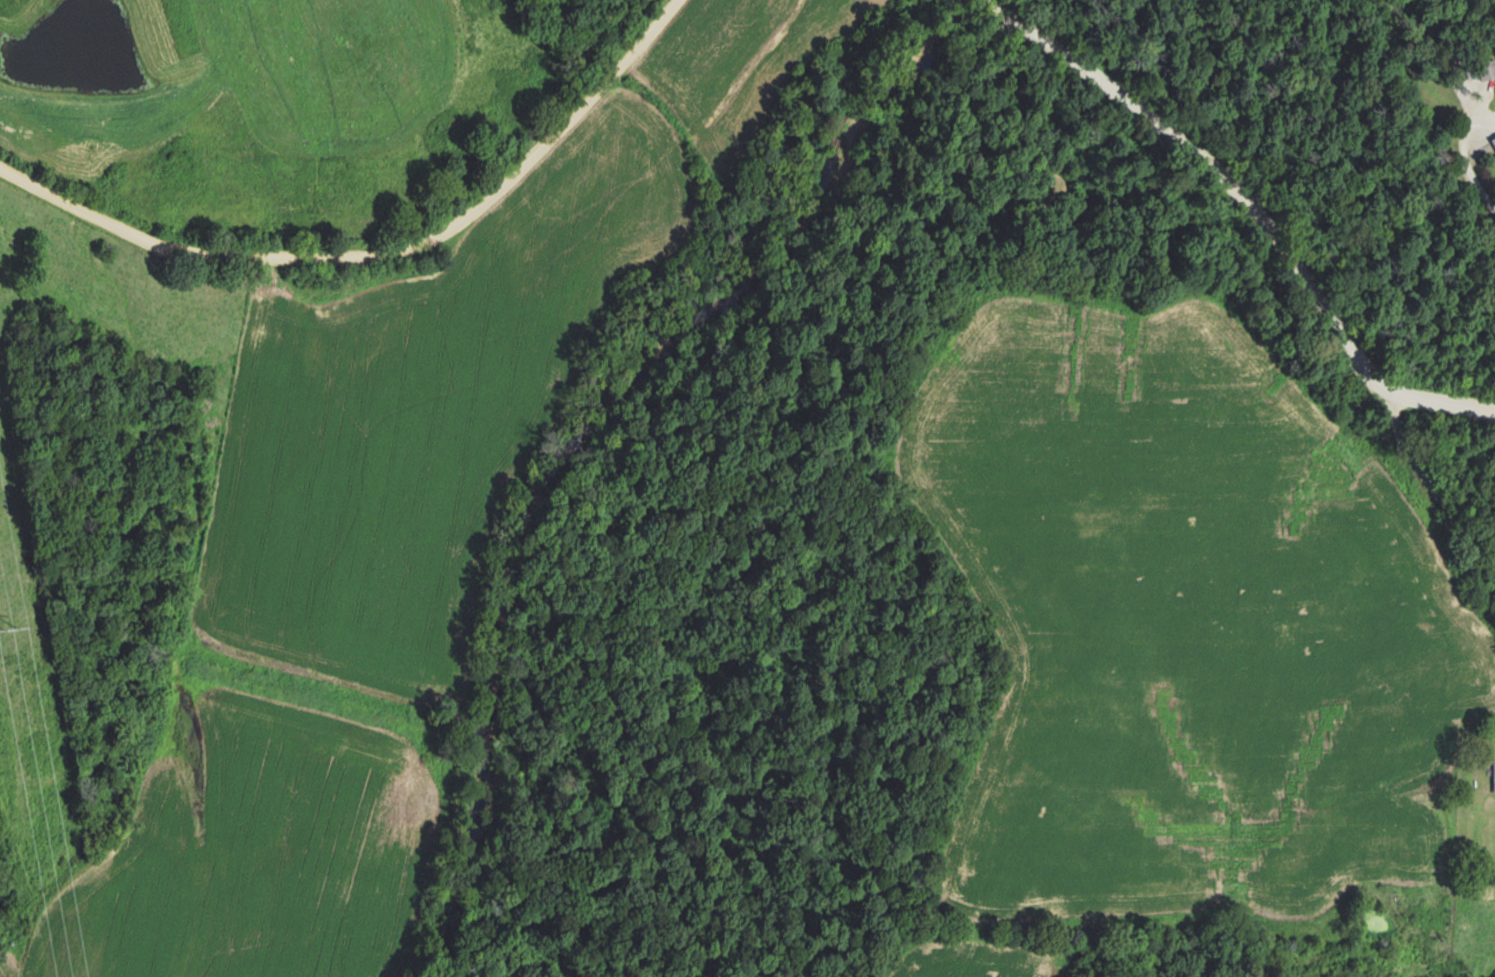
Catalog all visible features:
road: (1036, 39)
building: (1482, 70)
building: (1492, 143)
road: (384, 255)
road: (1283, 261)
road: (1422, 500)
power tower: (8, 628)
building: (1493, 771)

